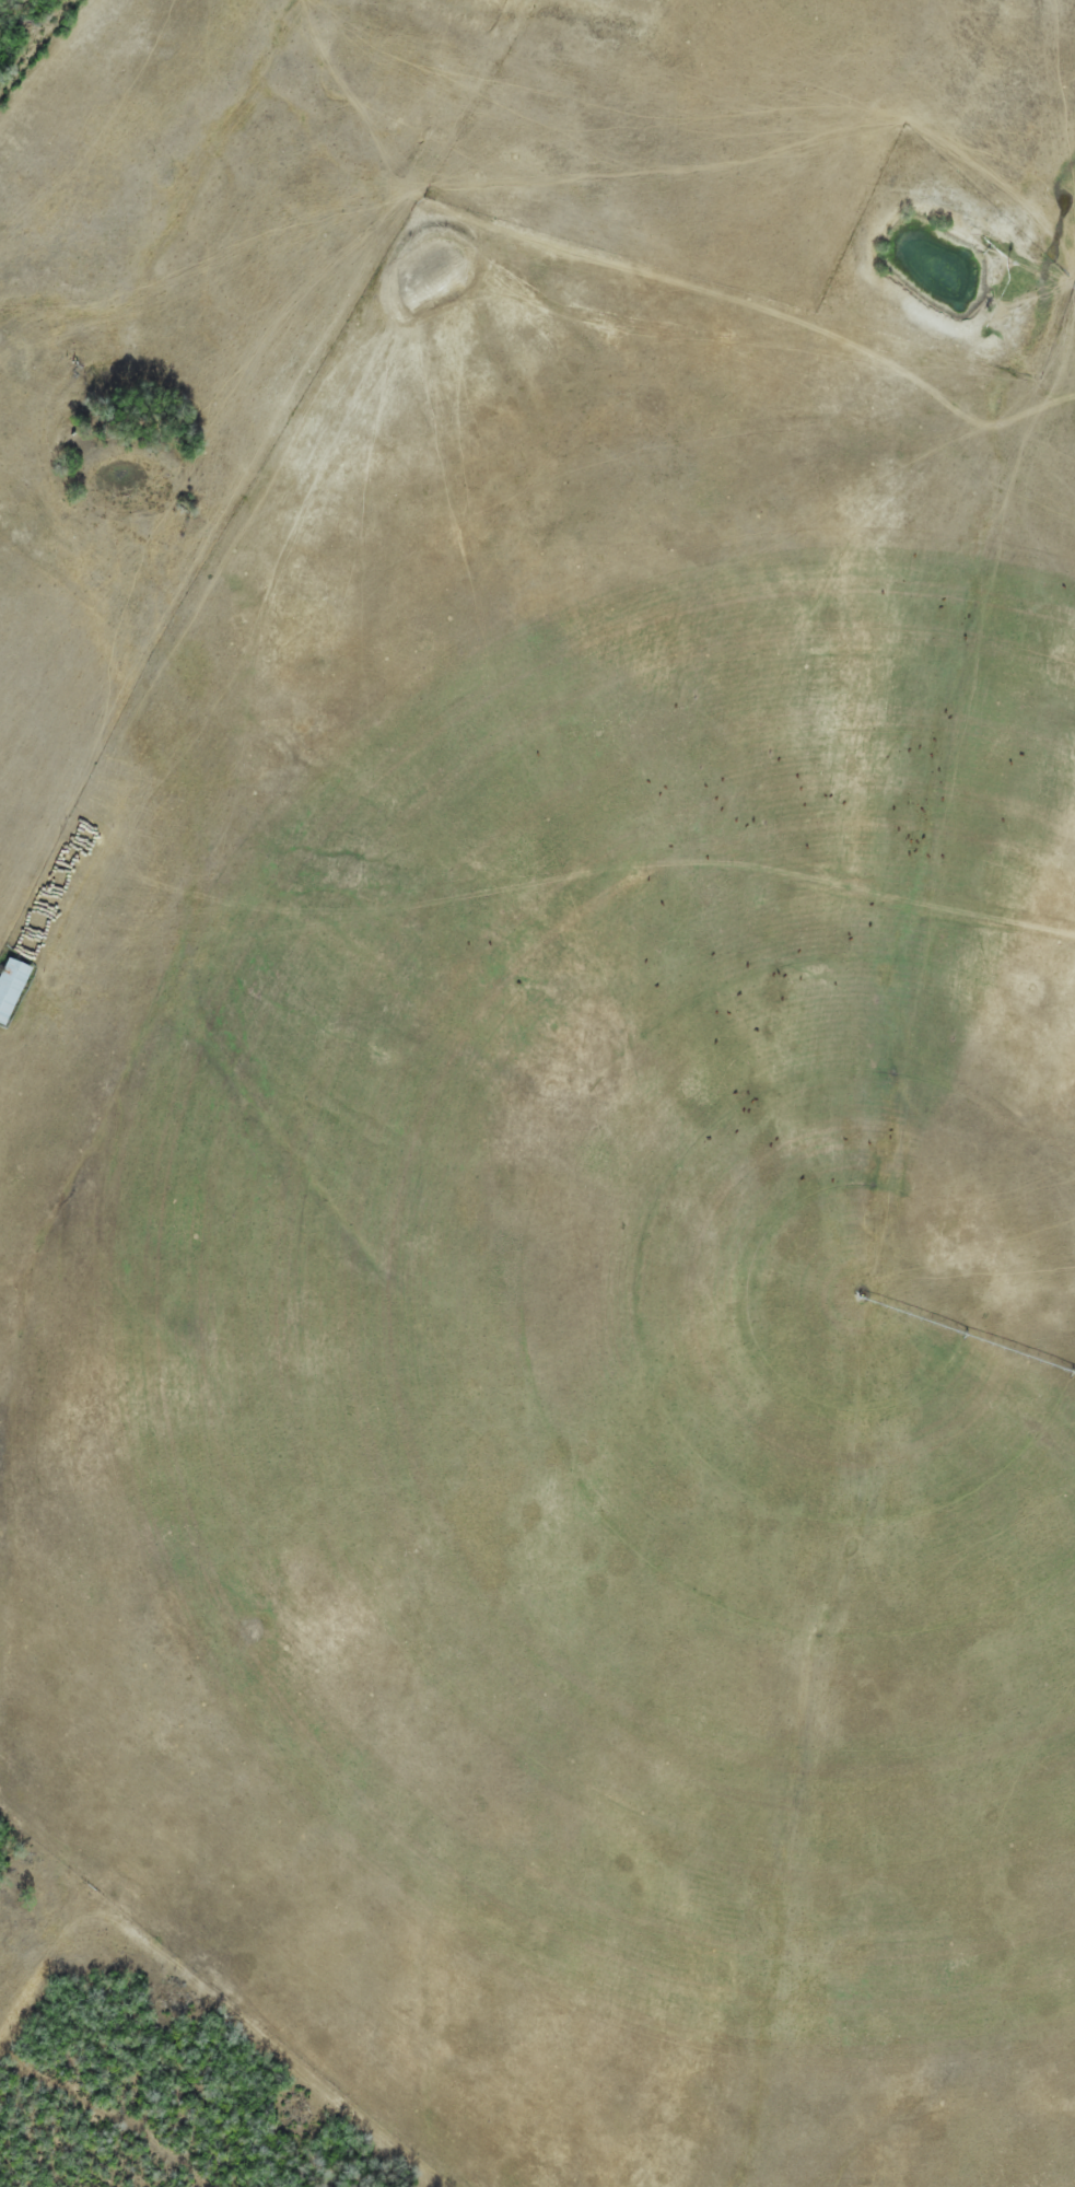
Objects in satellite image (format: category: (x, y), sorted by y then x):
building: (11, 985)

